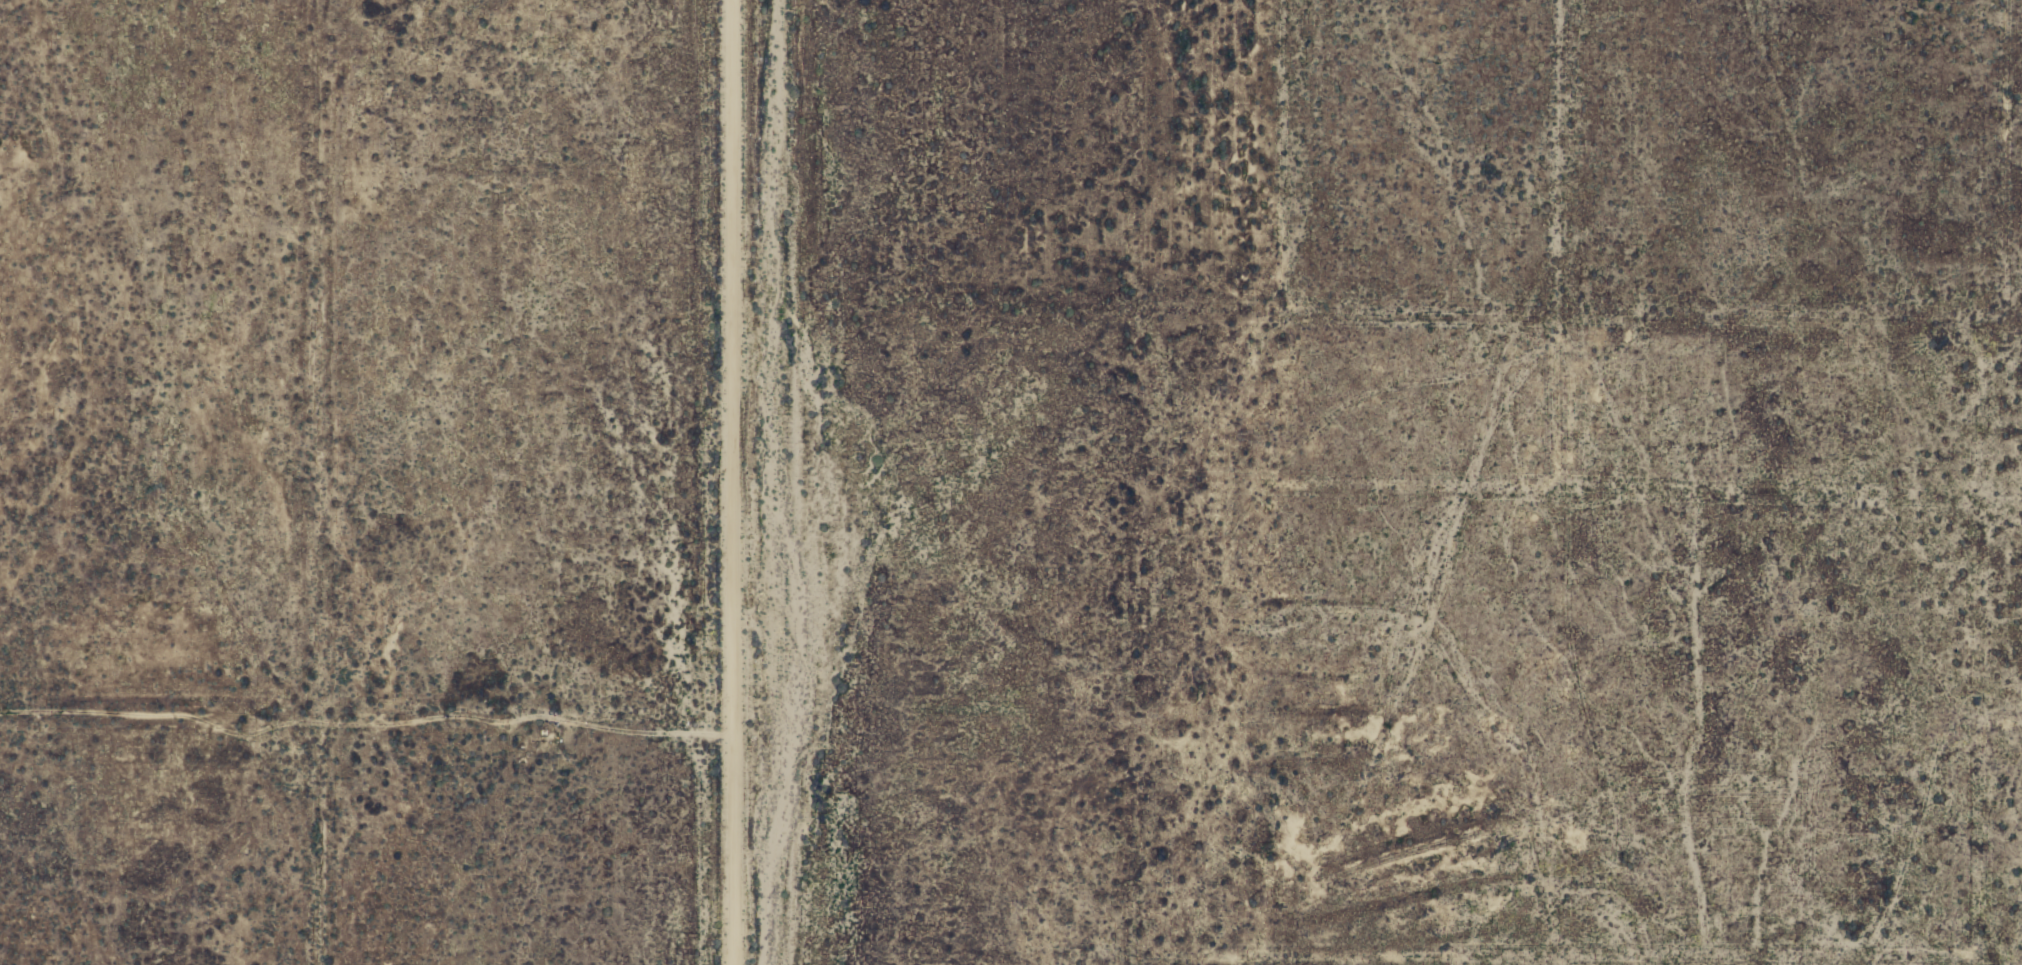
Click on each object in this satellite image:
road: (728, 482)

